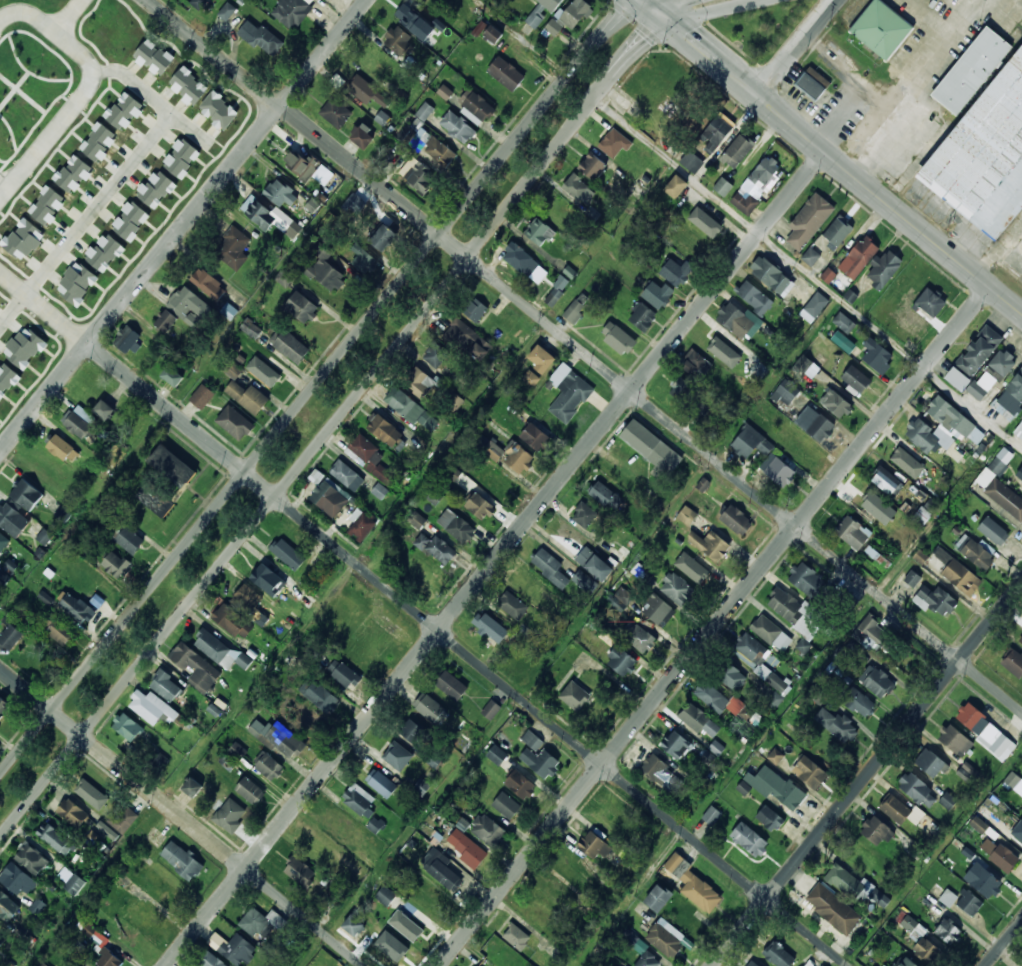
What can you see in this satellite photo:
road: (652, 2)
building: (198, 3)
traffic signals: (687, 4)
road: (684, 8)
road: (718, 10)
building: (227, 11)
building: (542, 11)
building: (291, 12)
building: (569, 17)
building: (414, 21)
building: (878, 24)
building: (493, 33)
traffic signals: (634, 33)
traffic signals: (685, 35)
building: (261, 37)
road: (520, 37)
building: (399, 40)
traffic signals: (647, 42)
road: (799, 49)
road: (619, 51)
building: (154, 57)
road: (628, 57)
building: (506, 73)
building: (811, 84)
building: (188, 86)
building: (367, 92)
building: (445, 92)
building: (475, 107)
building: (218, 110)
building: (124, 111)
building: (424, 111)
building: (335, 112)
building: (382, 118)
building: (978, 125)
building: (458, 127)
building: (407, 133)
building: (714, 133)
building: (362, 136)
building: (98, 142)
building: (614, 143)
building: (736, 151)
building: (440, 152)
building: (181, 158)
road: (830, 158)
building: (692, 162)
building: (301, 165)
building: (408, 166)
building: (592, 166)
building: (764, 171)
building: (73, 174)
building: (323, 175)
building: (420, 177)
building: (673, 187)
building: (721, 187)
building: (577, 188)
building: (156, 189)
building: (280, 193)
building: (743, 202)
building: (47, 205)
building: (356, 205)
building: (270, 217)
building: (130, 220)
road: (181, 220)
building: (808, 222)
building: (710, 226)
building: (837, 231)
building: (539, 232)
building: (383, 237)
building: (24, 239)
building: (233, 248)
building: (863, 251)
building: (104, 252)
building: (811, 256)
building: (368, 262)
building: (525, 263)
building: (883, 268)
building: (325, 269)
building: (675, 272)
road: (807, 273)
building: (828, 275)
building: (284, 277)
building: (771, 277)
building: (77, 283)
building: (209, 284)
building: (657, 294)
building: (554, 297)
building: (753, 299)
building: (928, 303)
building: (815, 305)
building: (189, 306)
building: (301, 307)
building: (576, 308)
building: (475, 309)
building: (229, 311)
building: (727, 316)
building: (643, 317)
building: (165, 320)
building: (844, 322)
building: (617, 337)
building: (127, 339)
building: (467, 340)
building: (843, 341)
building: (290, 345)
building: (719, 346)
building: (24, 347)
building: (977, 352)
road: (586, 354)
building: (435, 355)
building: (873, 355)
building: (541, 358)
building: (695, 365)
building: (806, 367)
building: (233, 370)
building: (263, 371)
building: (991, 375)
building: (172, 376)
building: (7, 378)
building: (530, 378)
building: (854, 379)
building: (957, 379)
road: (317, 382)
building: (420, 383)
building: (569, 392)
building: (684, 392)
building: (786, 392)
building: (1012, 395)
building: (202, 396)
building: (248, 397)
building: (834, 405)
building: (103, 409)
building: (410, 409)
building: (1021, 415)
building: (949, 418)
building: (79, 421)
building: (235, 422)
building: (813, 424)
building: (385, 430)
building: (1018, 431)
building: (535, 437)
building: (921, 437)
building: (750, 442)
building: (651, 447)
building: (797, 447)
building: (63, 448)
building: (494, 450)
building: (518, 457)
building: (901, 457)
building: (370, 459)
building: (172, 465)
road: (296, 465)
building: (995, 466)
building: (776, 472)
building: (347, 475)
building: (1018, 477)
building: (885, 482)
building: (702, 484)
building: (380, 491)
building: (27, 494)
building: (606, 496)
building: (155, 499)
building: (329, 499)
building: (1004, 499)
building: (867, 502)
building: (480, 506)
building: (584, 515)
building: (687, 515)
building: (923, 515)
building: (12, 519)
building: (417, 520)
building: (734, 520)
building: (363, 526)
building: (457, 526)
building: (991, 531)
building: (851, 533)
building: (44, 536)
building: (127, 538)
building: (962, 541)
building: (3, 542)
building: (713, 547)
building: (441, 549)
building: (288, 553)
building: (621, 554)
building: (976, 555)
building: (877, 558)
road: (496, 560)
building: (116, 564)
building: (594, 564)
building: (550, 568)
building: (693, 569)
building: (952, 572)
building: (420, 574)
building: (803, 578)
building: (912, 578)
building: (268, 579)
building: (585, 582)
building: (675, 589)
building: (247, 600)
building: (935, 601)
building: (512, 605)
building: (784, 605)
building: (847, 605)
building: (74, 610)
building: (654, 610)
building: (233, 622)
road: (715, 627)
building: (492, 628)
building: (60, 630)
building: (771, 633)
building: (872, 636)
building: (10, 637)
building: (635, 637)
building: (1019, 640)
building: (214, 648)
building: (749, 648)
road: (465, 653)
building: (619, 662)
building: (1013, 663)
building: (196, 667)
building: (562, 667)
building: (345, 674)
building: (730, 677)
building: (876, 682)
building: (166, 686)
building: (452, 686)
building: (319, 694)
building: (574, 696)
building: (712, 699)
building: (774, 699)
building: (857, 702)
building: (4, 708)
building: (153, 708)
building: (430, 708)
building: (491, 709)
building: (697, 720)
building: (834, 725)
building: (128, 726)
building: (414, 732)
building: (984, 732)
building: (286, 741)
building: (953, 741)
building: (675, 745)
building: (716, 747)
building: (237, 751)
building: (497, 755)
building: (539, 755)
building: (775, 756)
building: (400, 757)
building: (159, 761)
building: (929, 764)
building: (270, 767)
building: (969, 772)
building: (807, 773)
building: (661, 775)
road: (868, 775)
building: (1014, 782)
building: (382, 783)
building: (521, 784)
building: (192, 786)
building: (422, 786)
building: (744, 787)
building: (776, 788)
building: (912, 788)
building: (94, 789)
building: (251, 791)
building: (947, 800)
building: (357, 801)
building: (507, 806)
building: (895, 811)
building: (74, 813)
building: (231, 816)
building: (711, 816)
road: (182, 817)
building: (768, 819)
building: (123, 820)
building: (463, 824)
building: (979, 824)
building: (375, 825)
building: (346, 827)
building: (488, 830)
building: (107, 831)
building: (875, 833)
building: (1017, 835)
building: (56, 839)
building: (747, 840)
building: (591, 846)
building: (467, 849)
building: (320, 851)
building: (997, 855)
building: (32, 859)
building: (182, 861)
building: (673, 864)
building: (442, 870)
building: (301, 872)
building: (15, 878)
building: (71, 881)
building: (980, 881)
building: (853, 886)
building: (698, 892)
building: (386, 895)
building: (655, 899)
building: (962, 902)
building: (8, 906)
building: (37, 906)
building: (832, 910)
building: (541, 913)
building: (260, 922)
building: (409, 923)
building: (909, 923)
building: (354, 925)
building: (947, 932)
building: (2, 935)
building: (517, 937)
building: (664, 938)
road: (1004, 943)
building: (389, 945)
building: (238, 949)
building: (926, 951)
building: (777, 955)
building: (109, 958)
building: (211, 960)
building: (646, 961)
building: (903, 962)
building: (751, 964)
building: (477, 965)
building: (479, 965)
building: (823, 965)
building: (884, 965)

